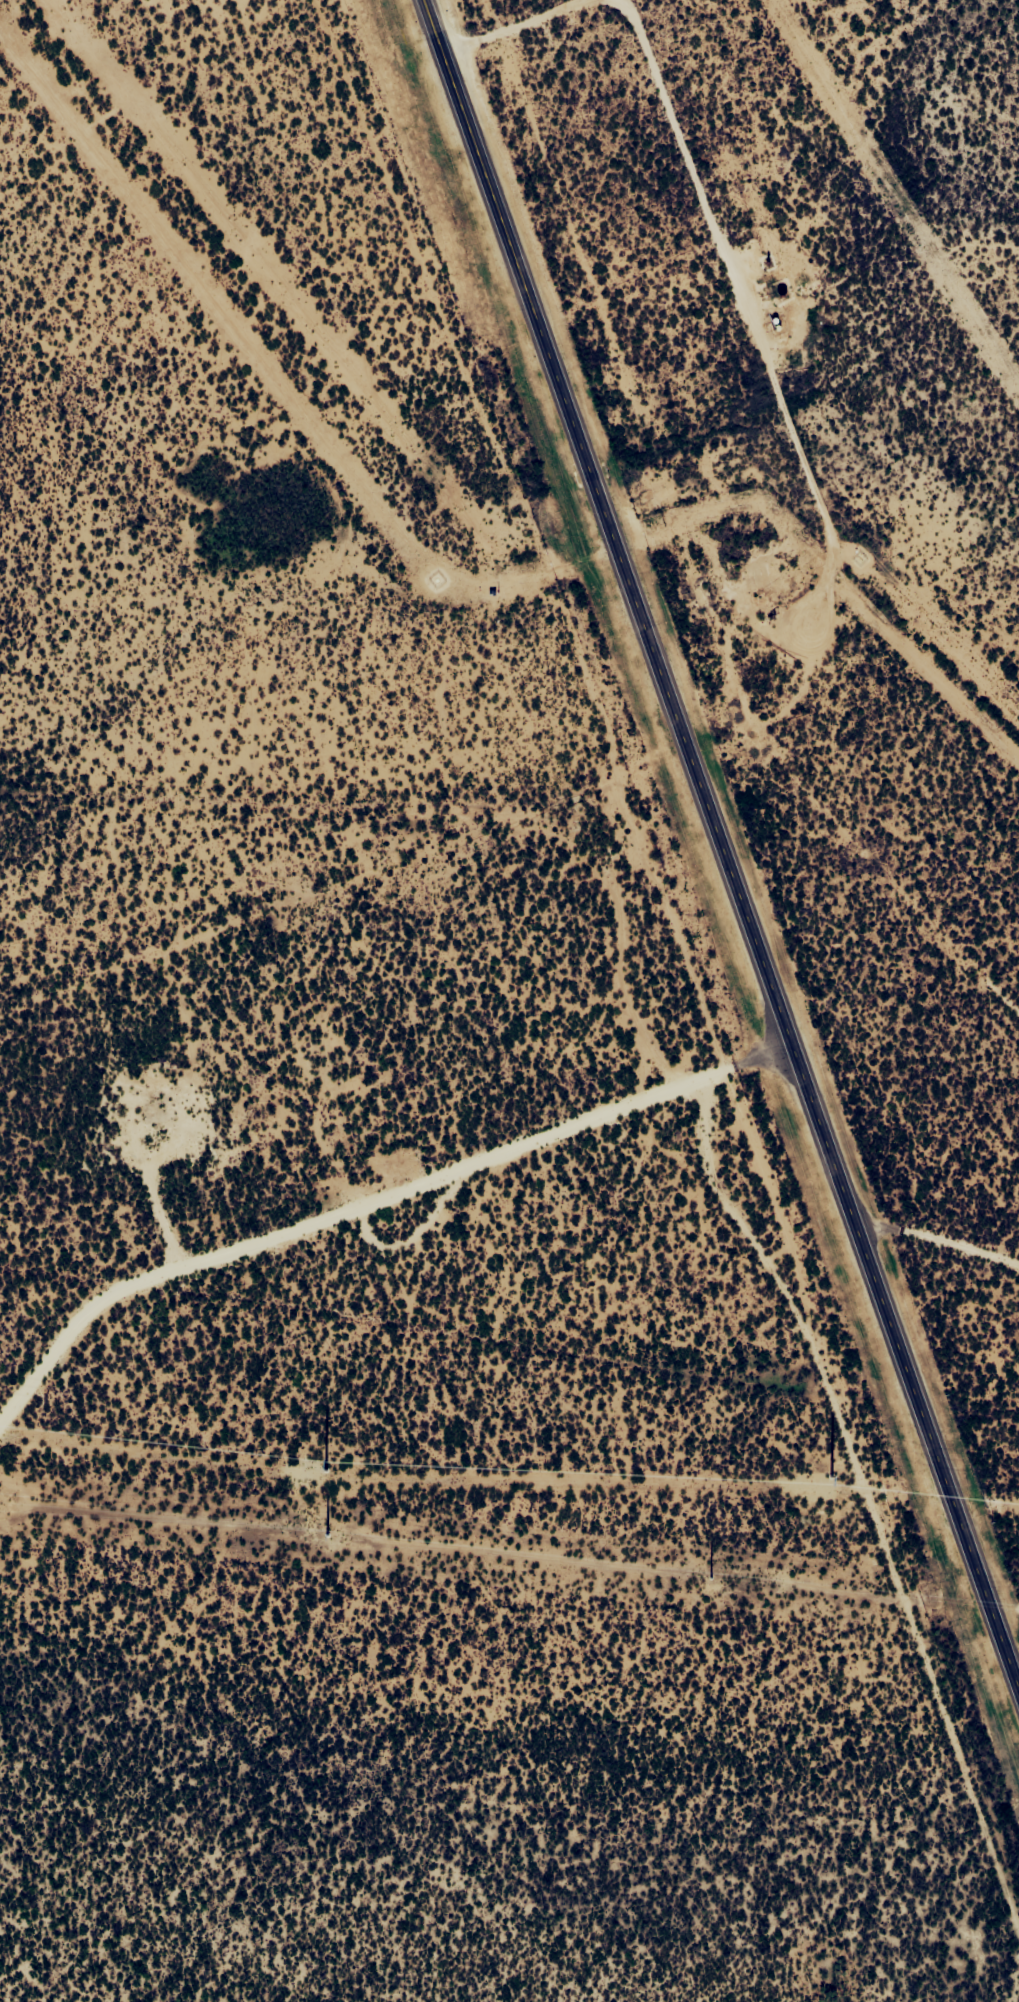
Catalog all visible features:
road: (720, 861)
road: (335, 1226)
power tower: (323, 1467)
power tower: (828, 1474)
road: (840, 1507)
power tower: (325, 1532)
power tower: (709, 1576)

